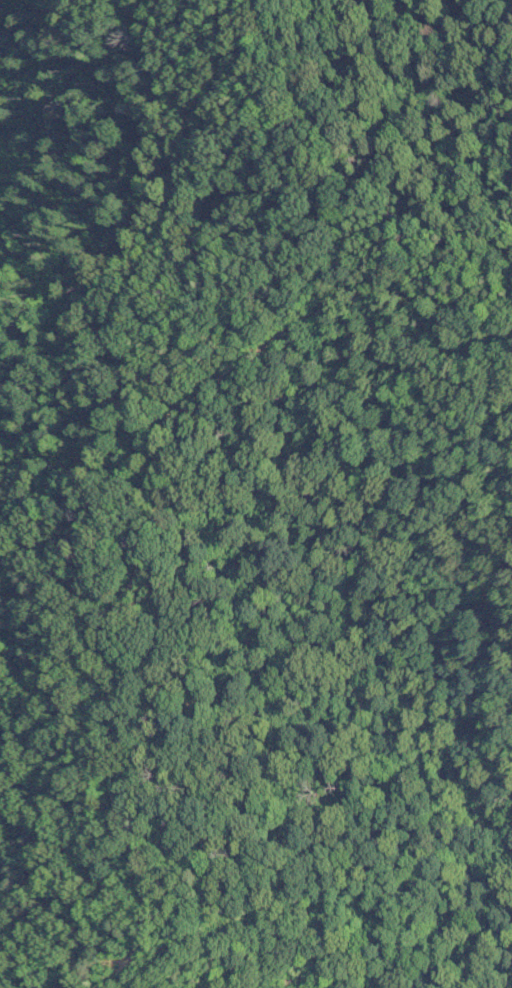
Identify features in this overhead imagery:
road: (135, 342)

